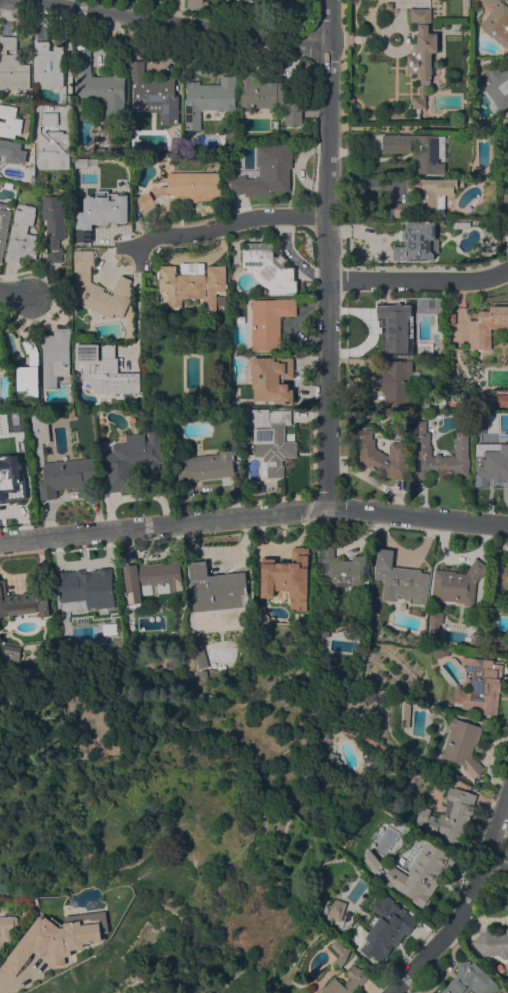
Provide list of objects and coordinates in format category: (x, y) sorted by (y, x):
building: (259, 0)
building: (507, 0)
building: (198, 4)
building: (245, 4)
building: (389, 5)
building: (497, 21)
road: (177, 23)
building: (422, 53)
road: (67, 60)
building: (48, 64)
building: (12, 65)
building: (498, 86)
building: (99, 87)
building: (155, 93)
building: (271, 96)
building: (208, 99)
building: (351, 99)
building: (507, 114)
building: (50, 118)
building: (10, 121)
building: (505, 121)
building: (176, 143)
building: (419, 149)
building: (54, 150)
building: (12, 151)
building: (267, 171)
building: (8, 185)
building: (184, 188)
building: (428, 197)
building: (101, 198)
building: (505, 213)
road: (231, 222)
building: (461, 224)
building: (3, 226)
building: (54, 226)
building: (23, 234)
building: (417, 241)
road: (327, 253)
building: (269, 267)
road: (418, 280)
building: (193, 284)
building: (99, 288)
road: (14, 292)
road: (136, 297)
building: (451, 318)
building: (269, 322)
building: (486, 326)
building: (395, 329)
building: (431, 350)
building: (55, 355)
building: (28, 369)
building: (103, 371)
building: (272, 378)
building: (397, 381)
building: (501, 399)
building: (461, 402)
building: (21, 413)
building: (71, 413)
building: (194, 414)
building: (274, 442)
building: (437, 455)
building: (383, 456)
building: (133, 458)
building: (54, 461)
building: (207, 467)
building: (491, 467)
building: (12, 487)
road: (253, 514)
building: (345, 571)
building: (287, 577)
building: (150, 578)
building: (400, 579)
building: (502, 582)
building: (457, 584)
building: (87, 585)
building: (217, 588)
building: (22, 602)
building: (507, 604)
building: (434, 625)
building: (422, 634)
building: (321, 636)
building: (500, 642)
building: (67, 643)
building: (10, 649)
building: (441, 653)
building: (200, 655)
building: (202, 674)
building: (480, 686)
building: (406, 714)
building: (463, 745)
building: (336, 761)
building: (448, 816)
building: (372, 860)
road: (497, 865)
building: (366, 876)
building: (419, 876)
road: (468, 904)
building: (336, 909)
building: (384, 928)
building: (10, 929)
building: (63, 938)
building: (492, 943)
building: (339, 952)
building: (470, 979)
building: (346, 981)
building: (306, 992)
building: (436, 992)

